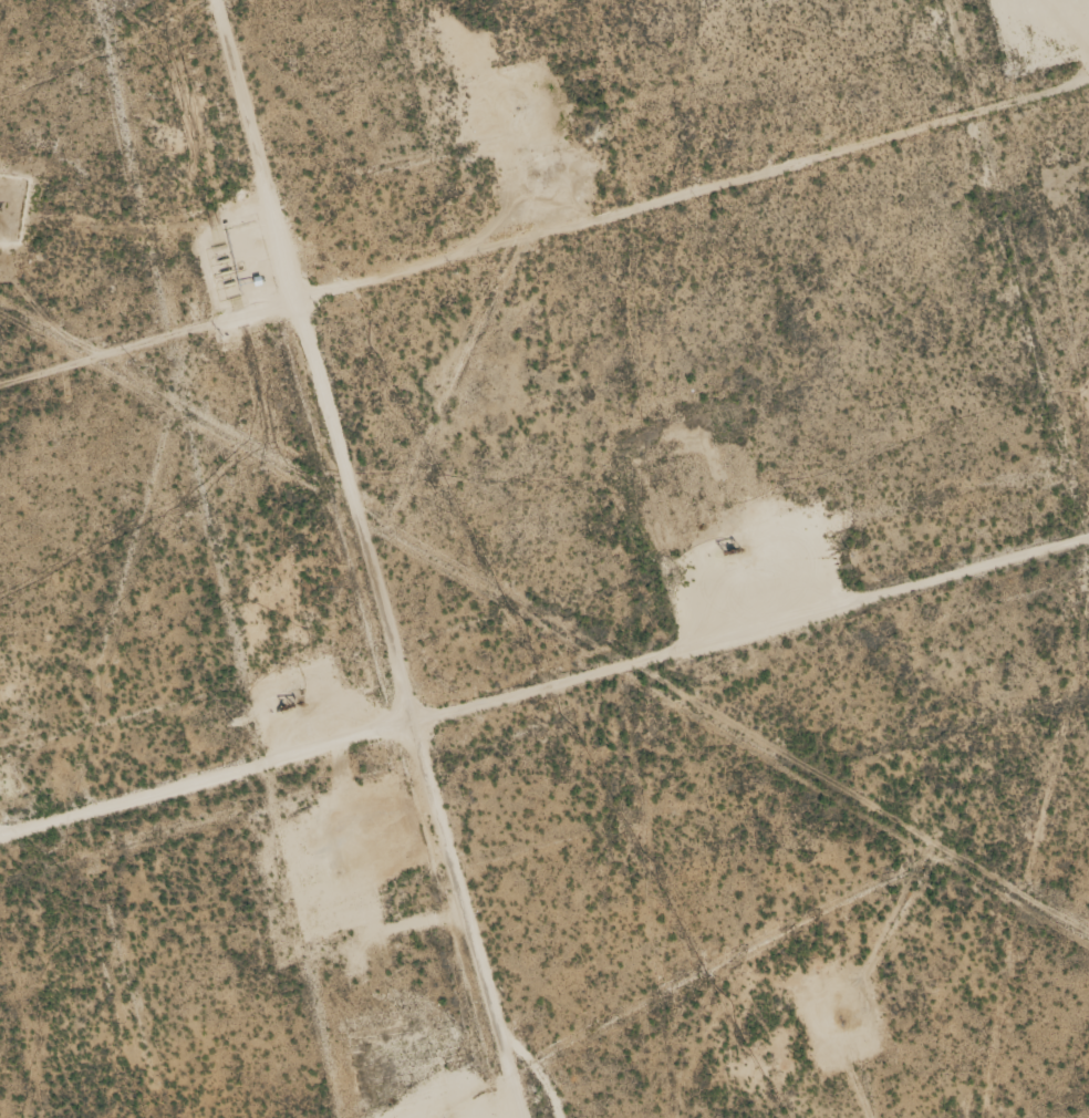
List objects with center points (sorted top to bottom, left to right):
road: (309, 558)
road: (544, 737)

